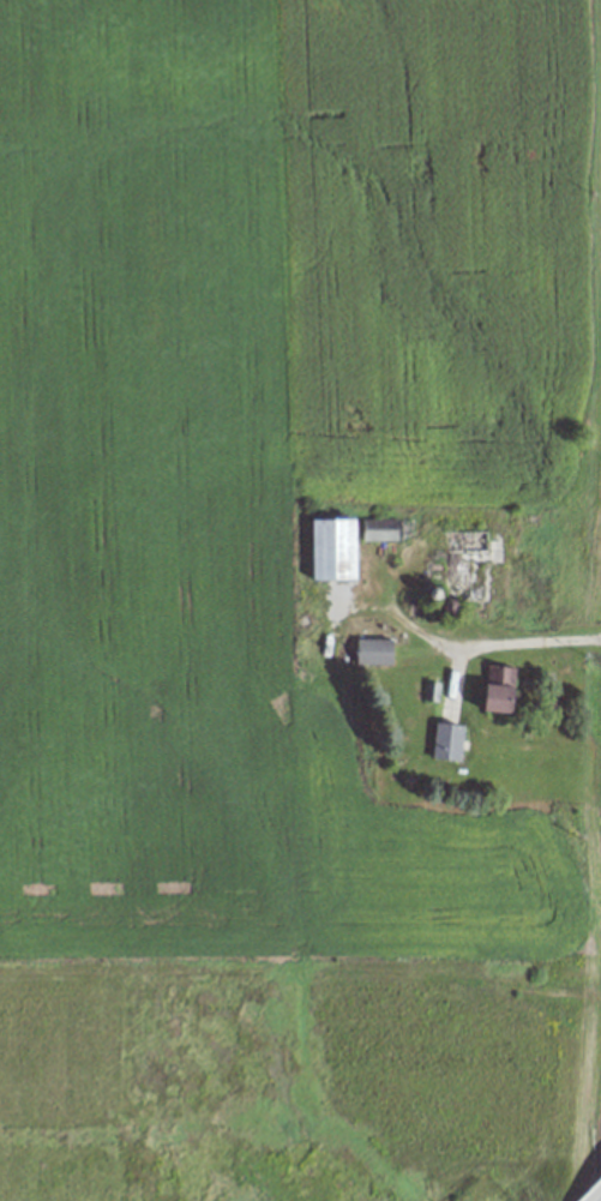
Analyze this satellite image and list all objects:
building: (381, 530)
building: (335, 551)
crop: (260, 562)
building: (469, 566)
road: (486, 642)
building: (374, 651)
building: (501, 689)
building: (449, 741)

